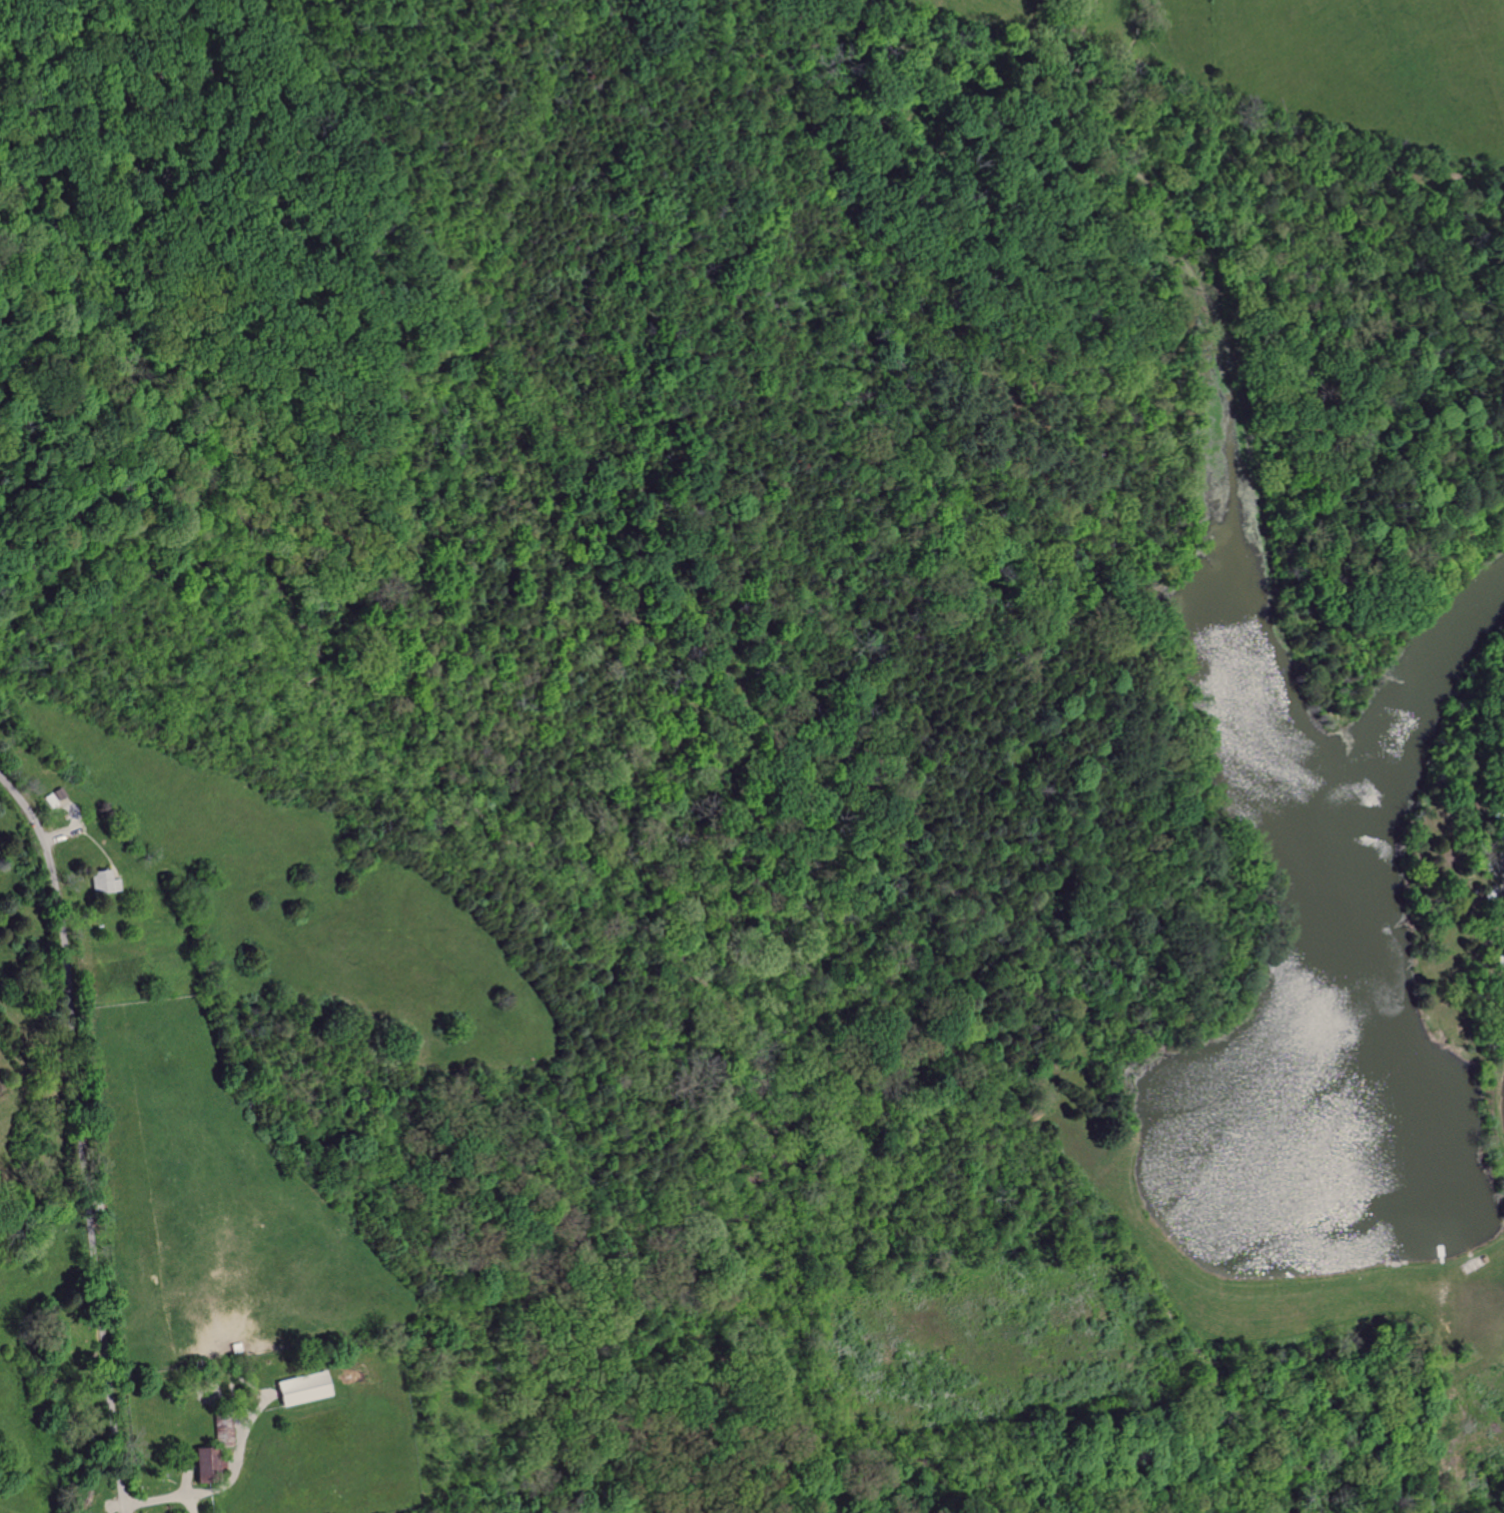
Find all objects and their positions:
building: (50, 797)
building: (101, 882)
road: (80, 1139)
building: (300, 1389)
building: (198, 1460)

